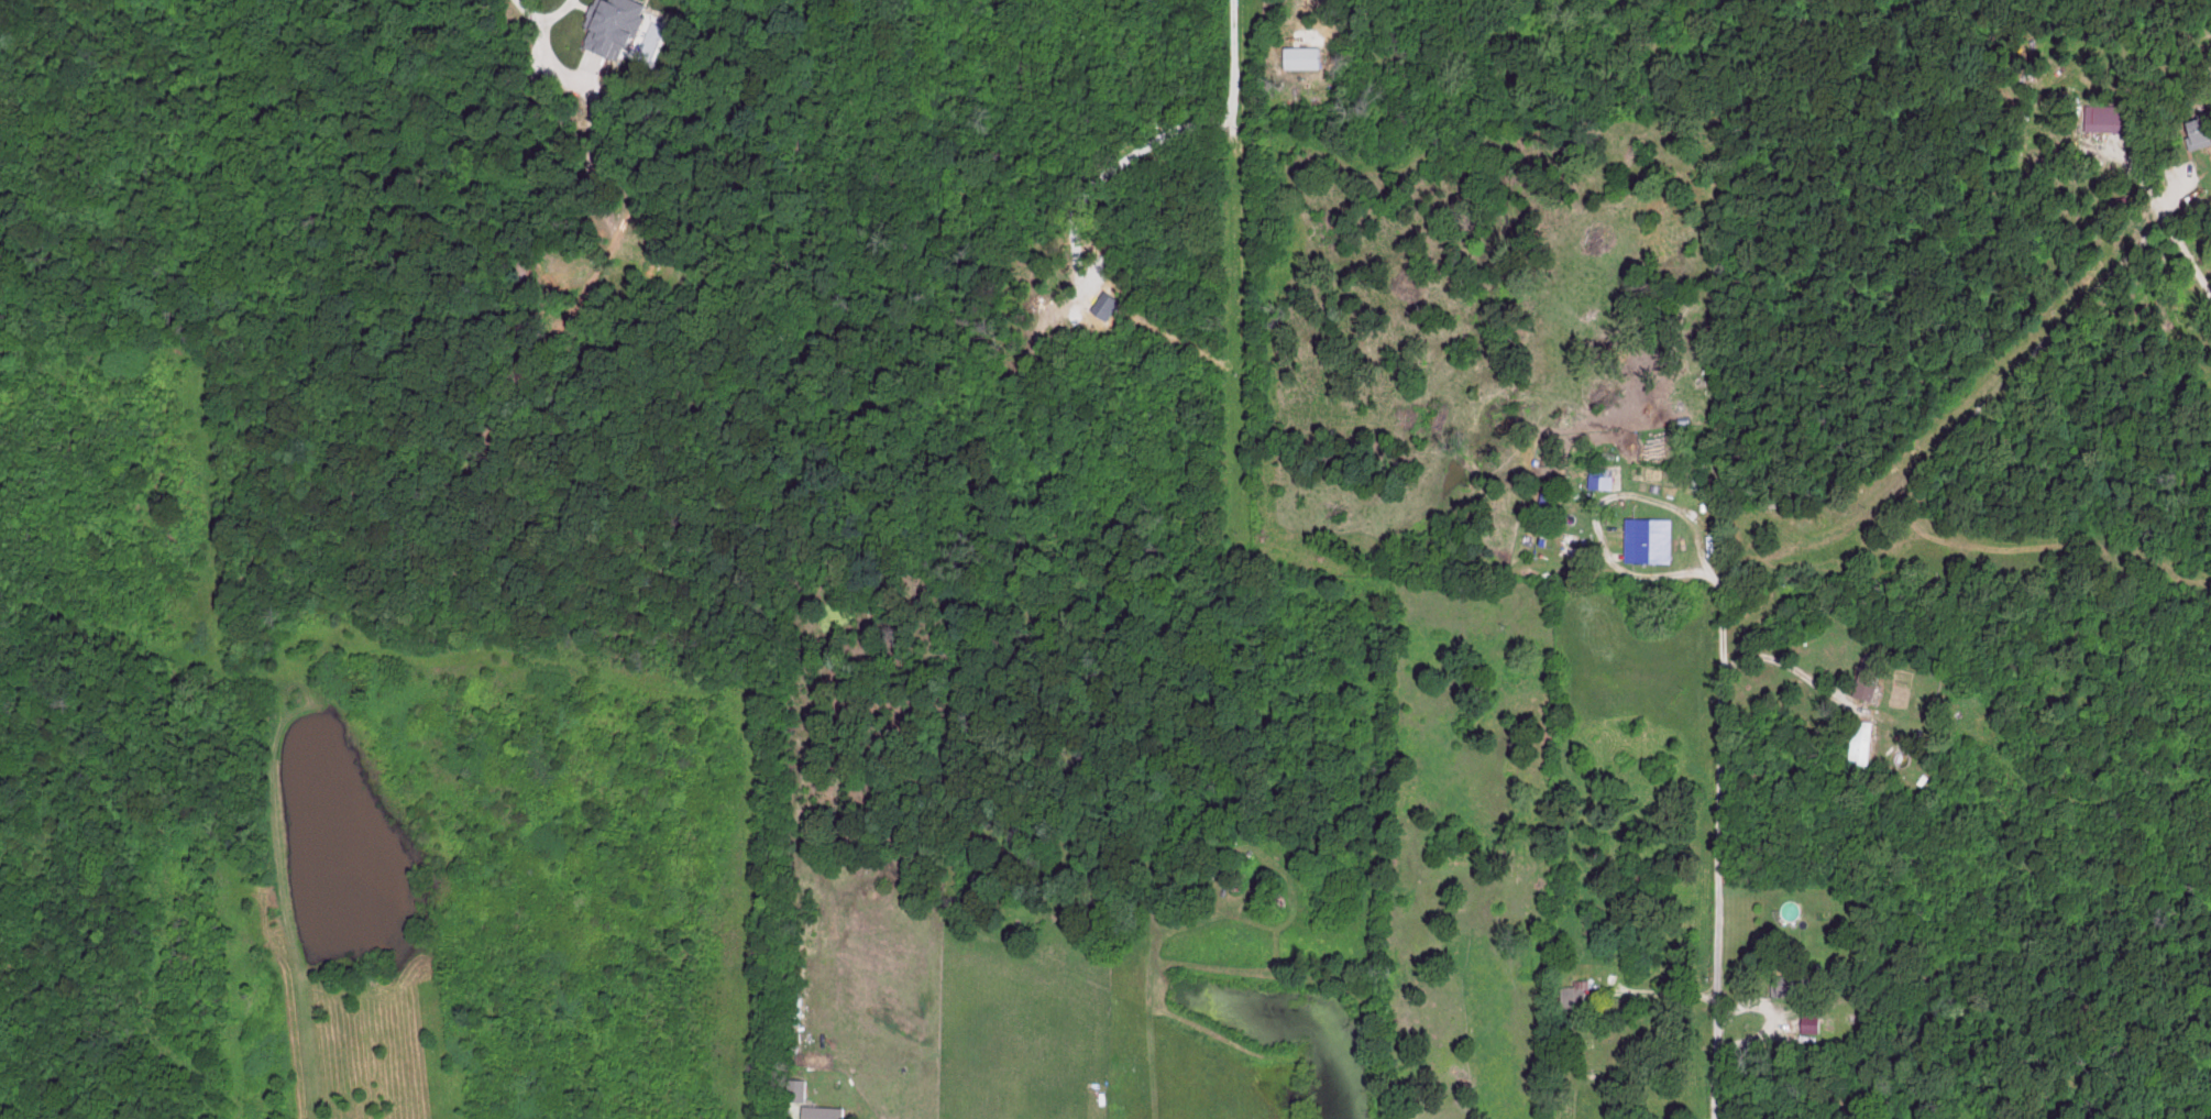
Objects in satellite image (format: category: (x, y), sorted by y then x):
road: (1307, 4)
road: (543, 21)
building: (619, 23)
building: (1305, 55)
building: (2106, 116)
building: (2203, 128)
road: (1155, 138)
road: (2190, 252)
road: (1956, 426)
building: (1603, 476)
building: (1650, 538)
road: (1641, 567)
road: (1783, 661)
building: (1871, 674)
building: (1860, 742)
road: (1715, 848)
building: (1795, 988)
building: (799, 1088)
building: (827, 1111)

